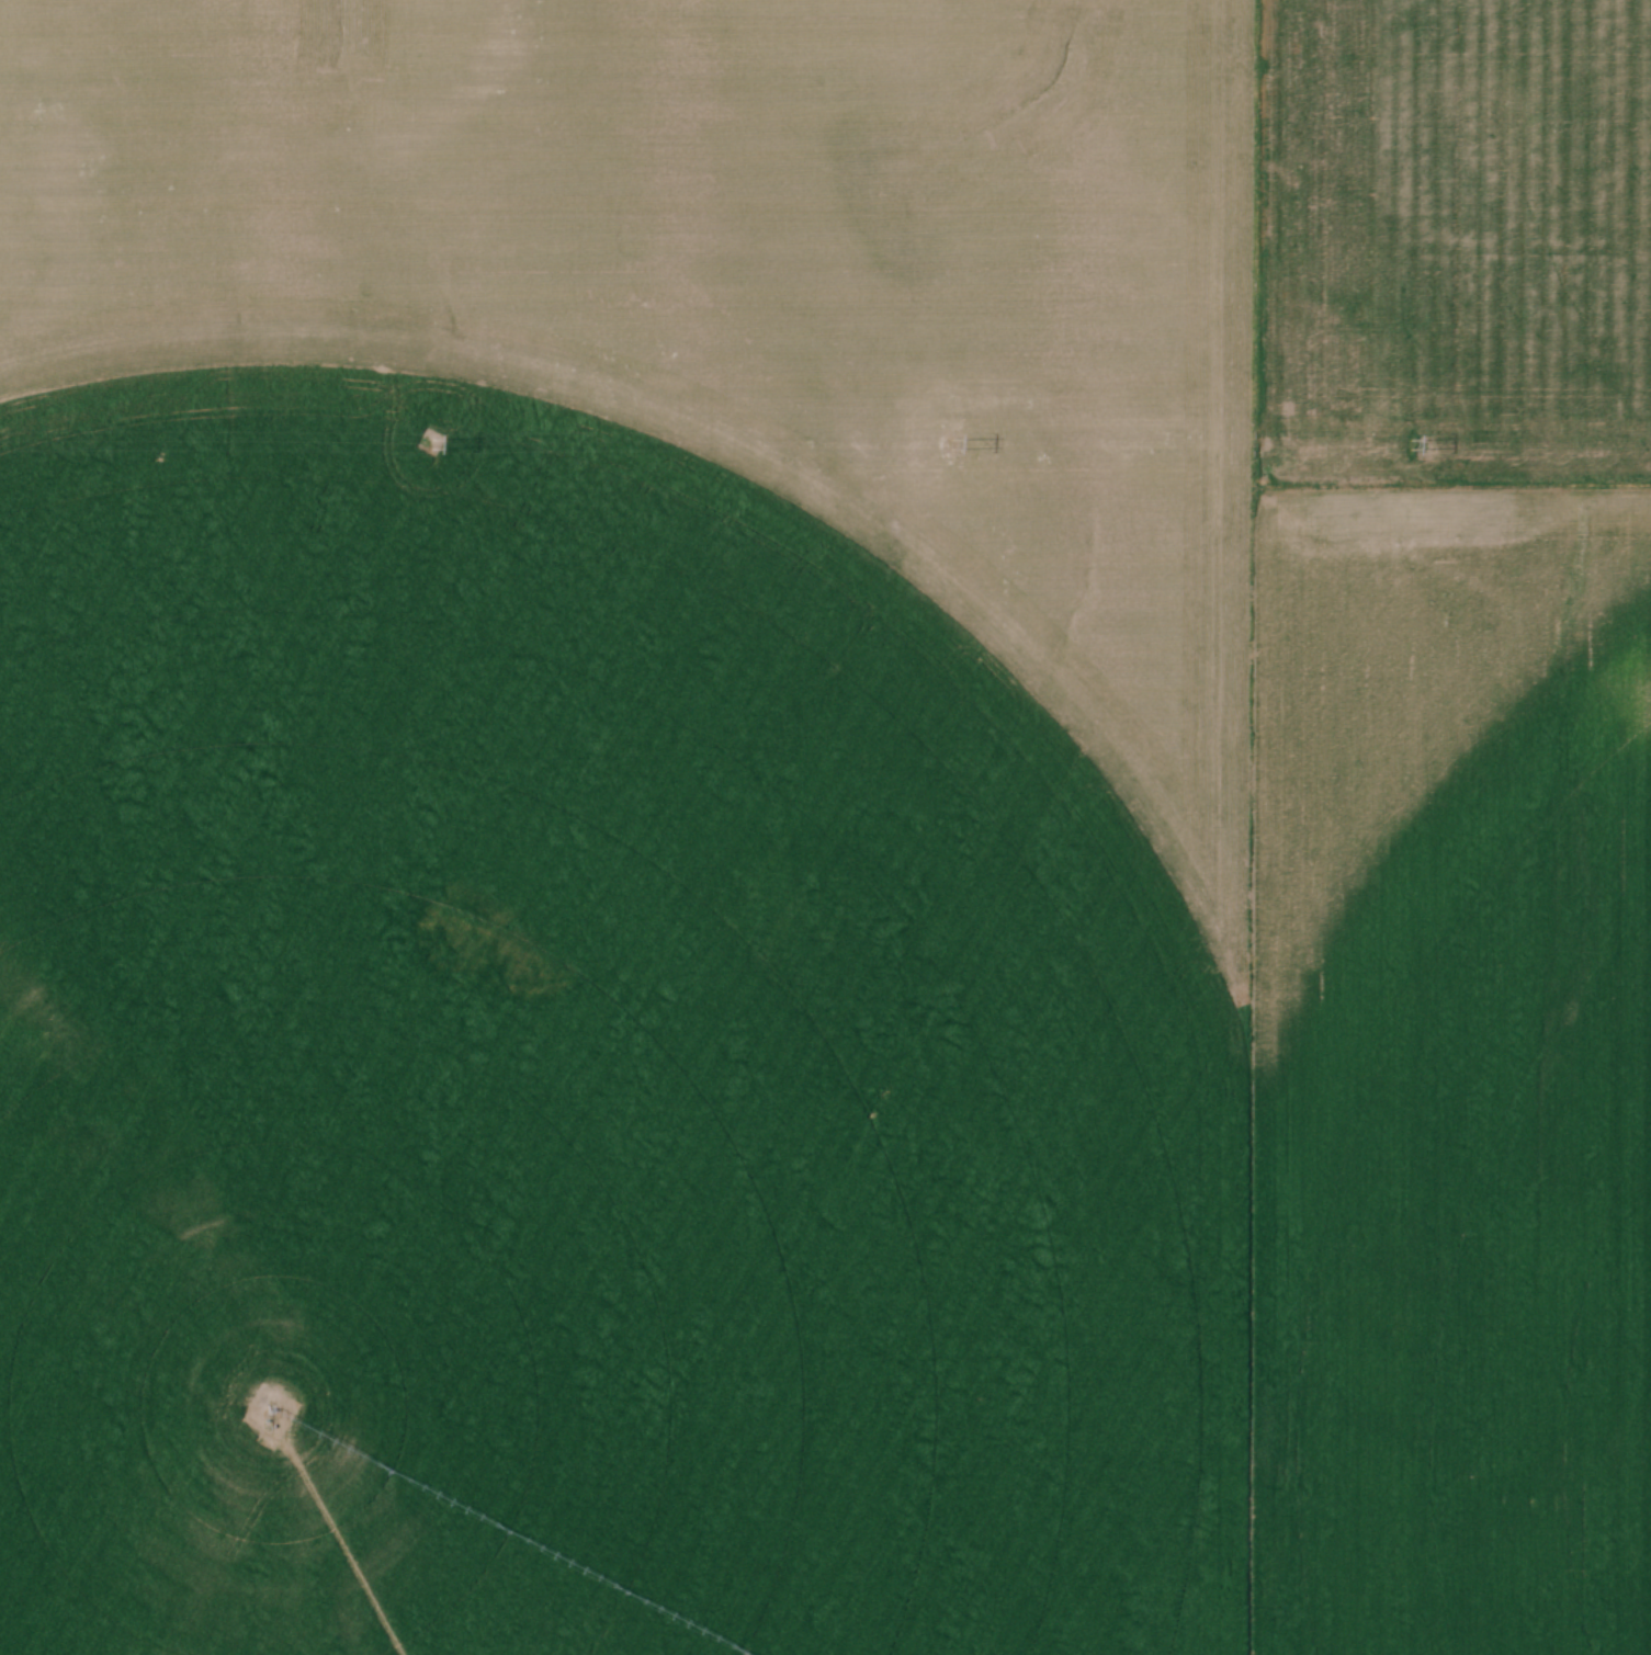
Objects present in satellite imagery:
power tower: (433, 441)
power tower: (952, 444)
power tower: (1411, 449)

